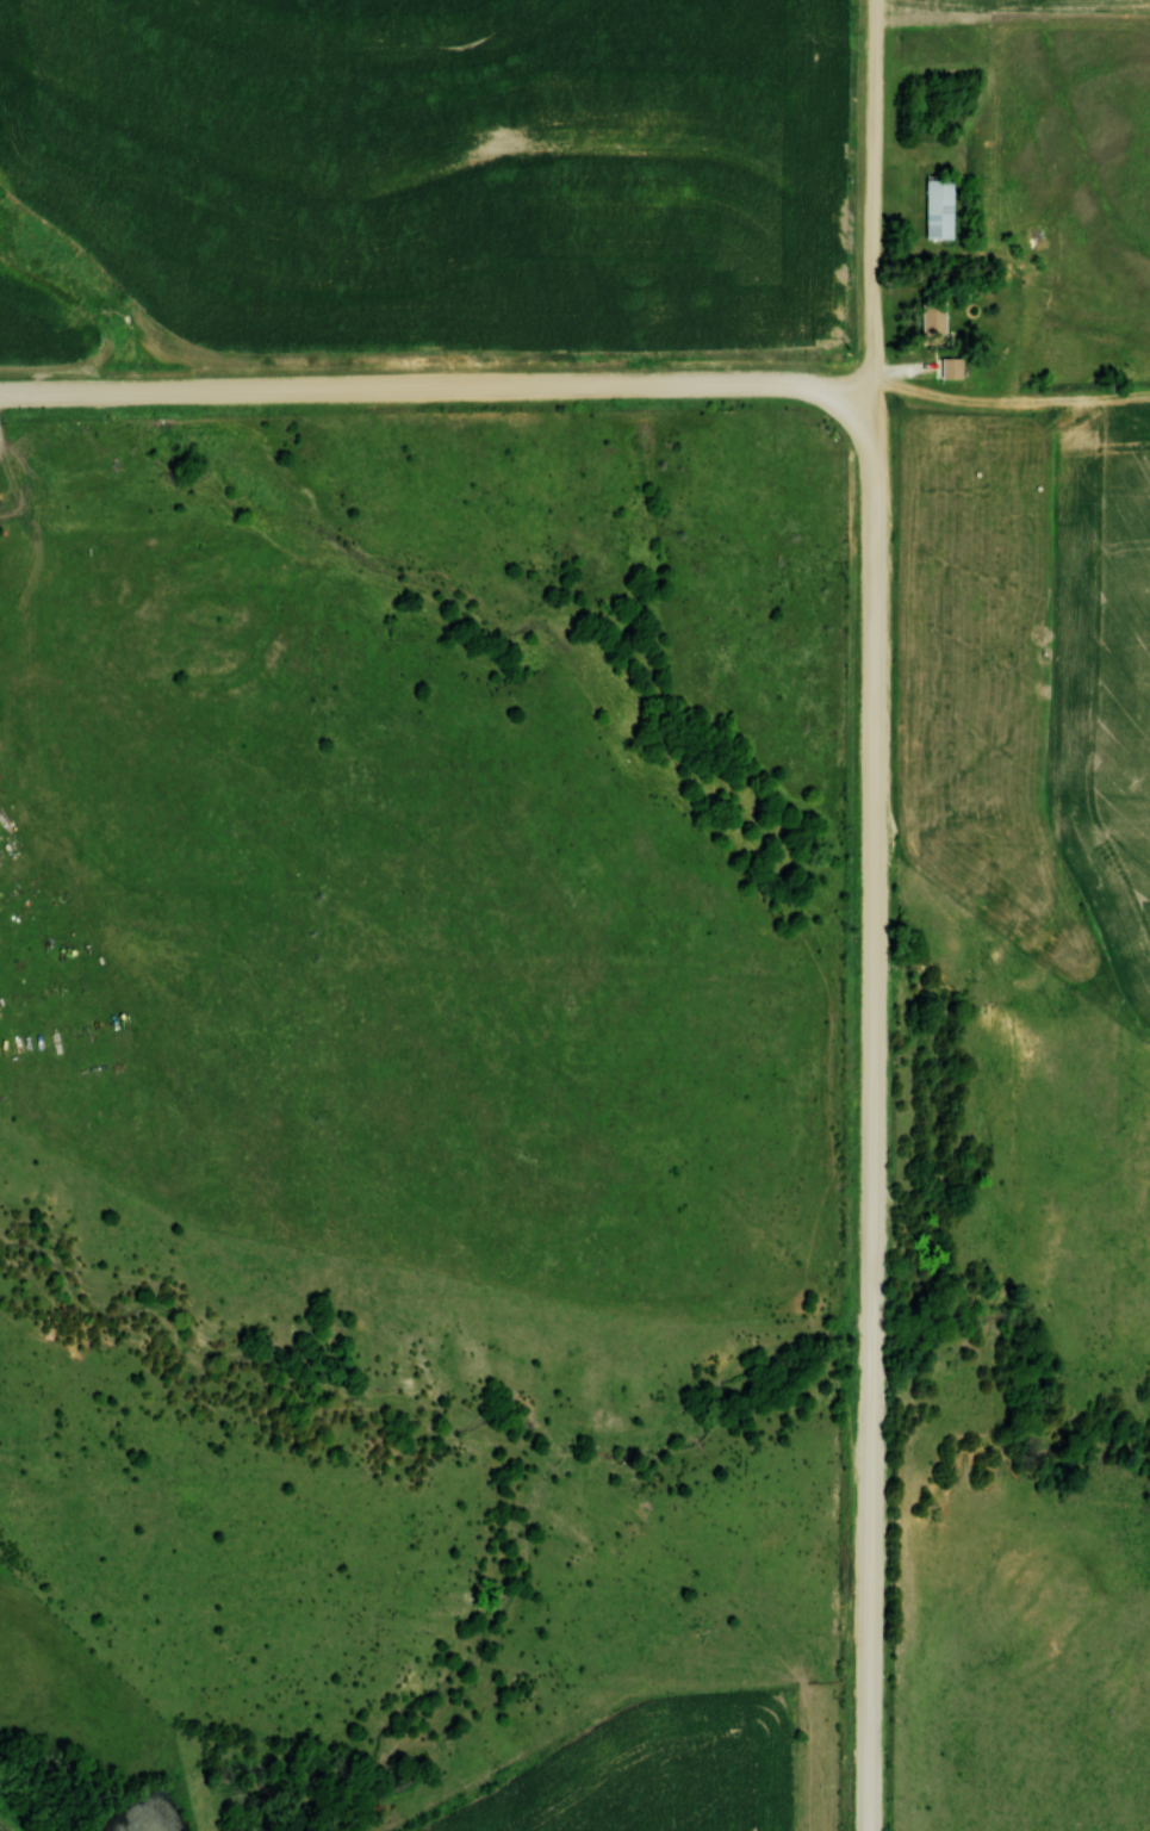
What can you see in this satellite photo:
road: (878, 205)
building: (937, 206)
building: (932, 321)
road: (425, 390)
road: (879, 1112)

